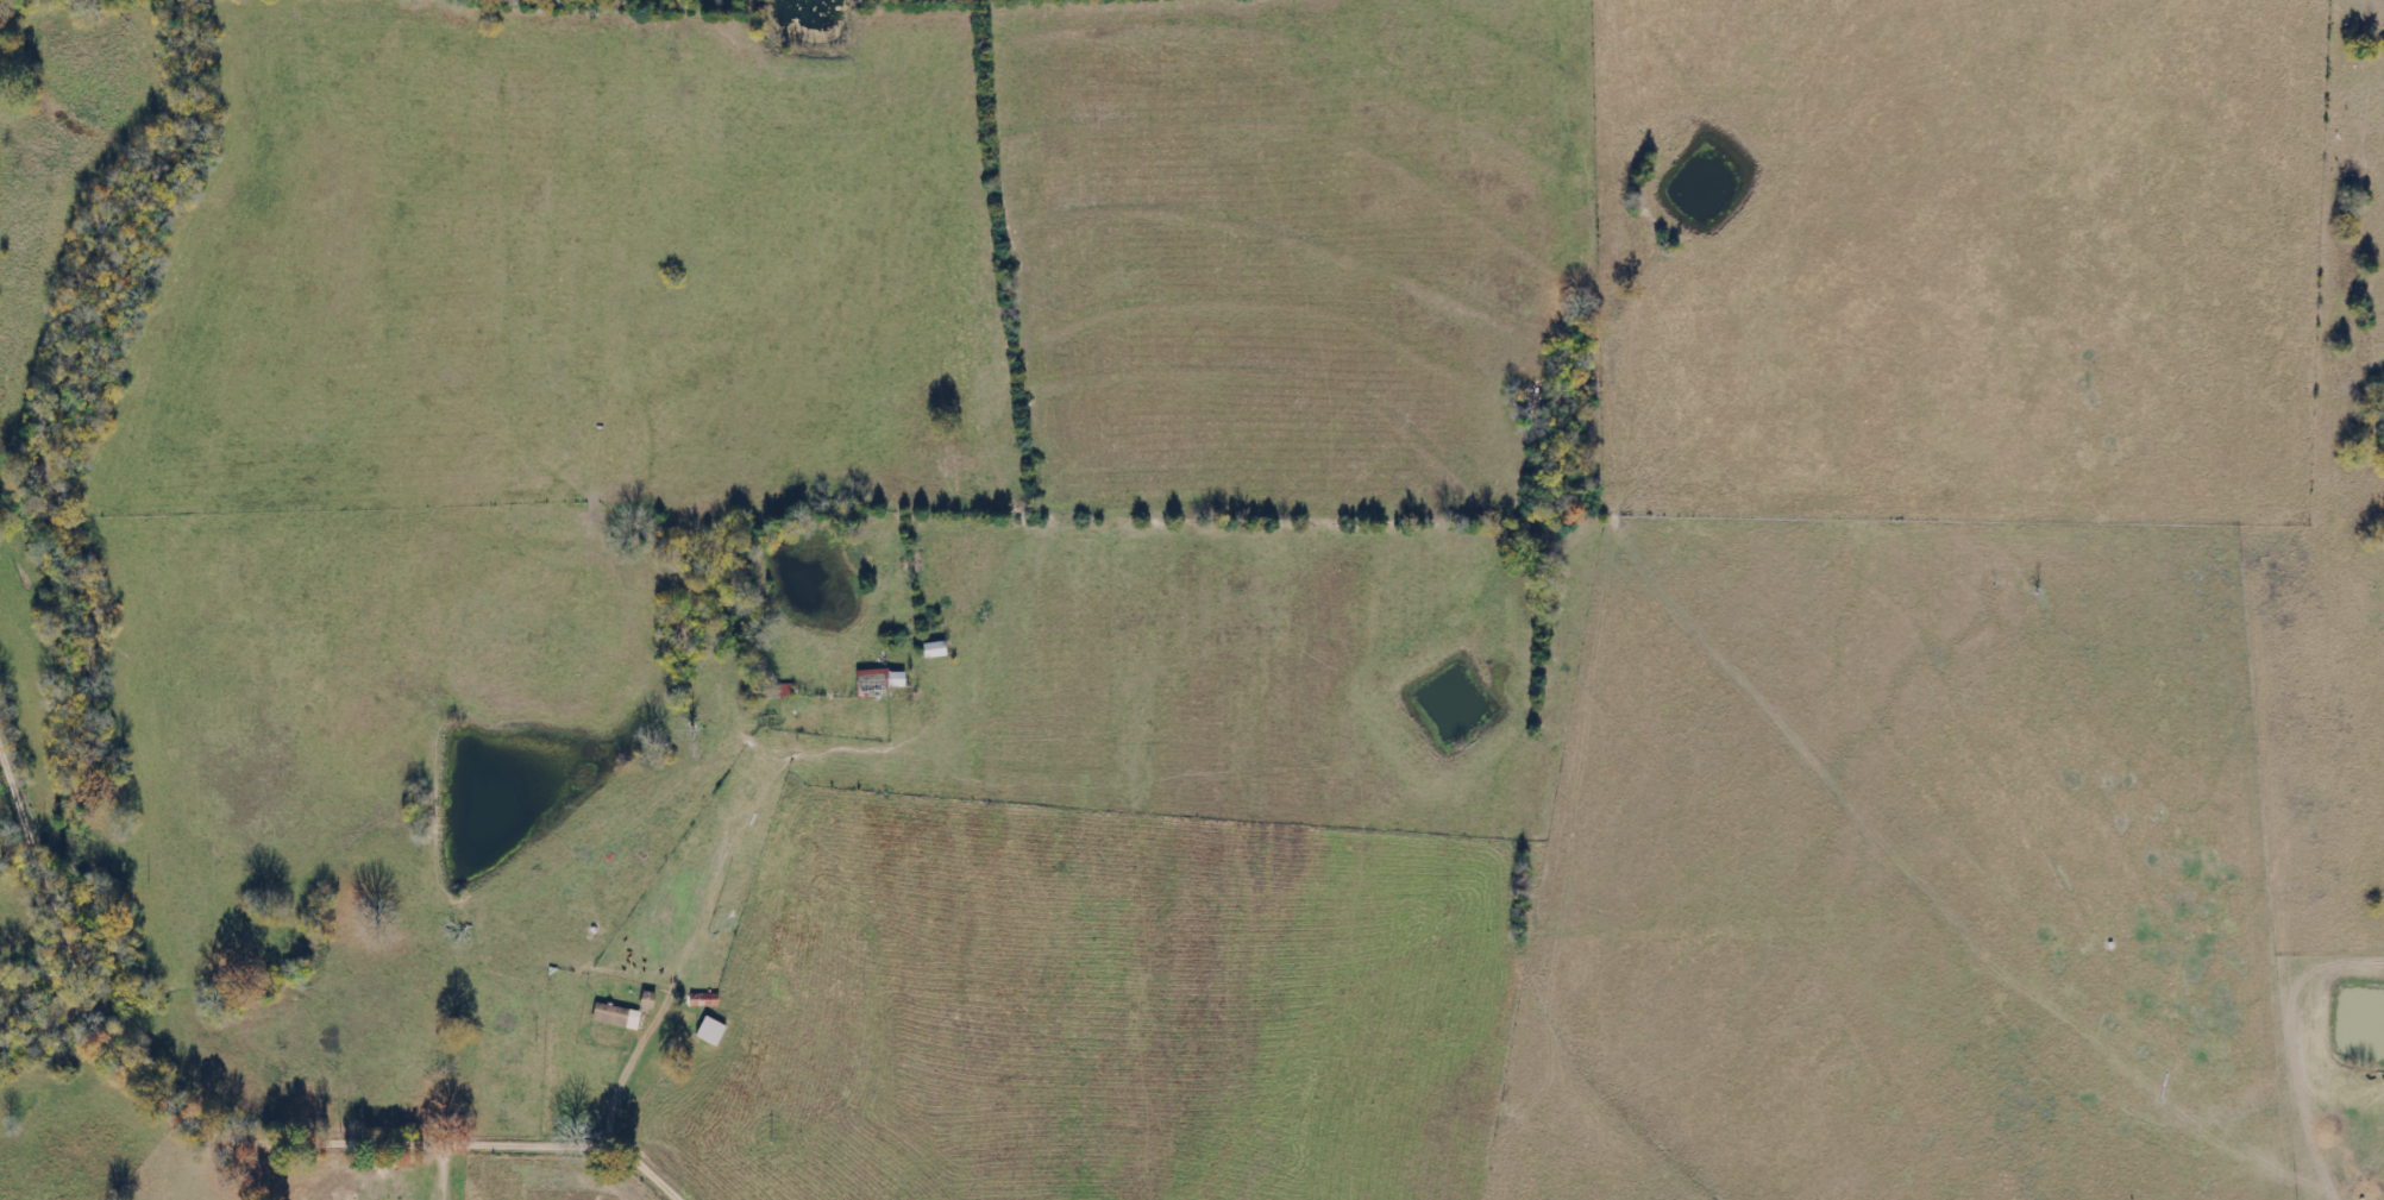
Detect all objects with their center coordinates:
building: (717, 1031)
road: (221, 1132)

